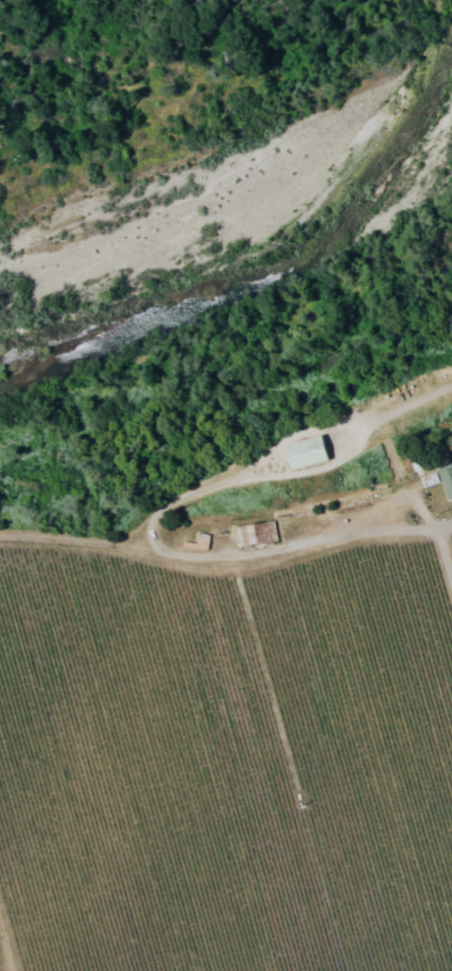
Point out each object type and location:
river: (226, 170)
building: (303, 451)
building: (445, 479)
building: (254, 532)
road: (449, 579)
crop: (231, 746)

